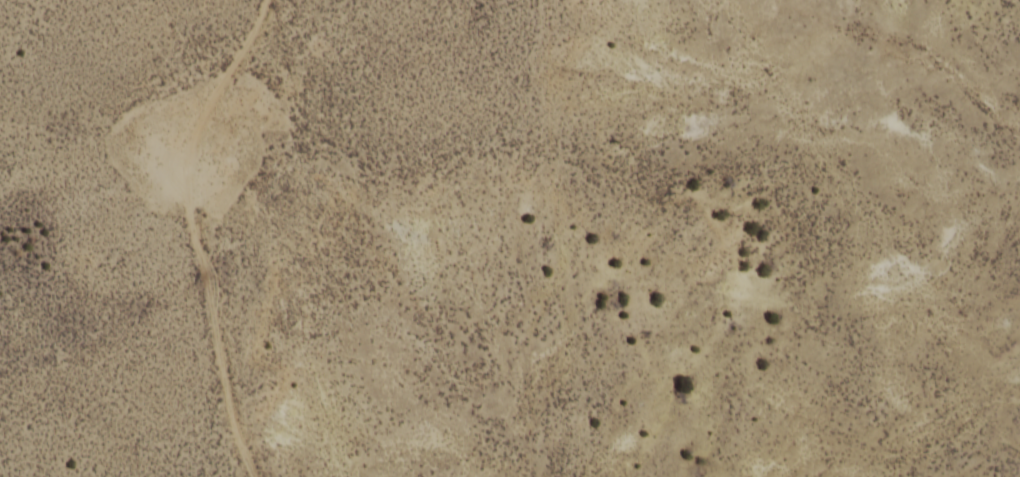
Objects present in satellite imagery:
road: (189, 230)

